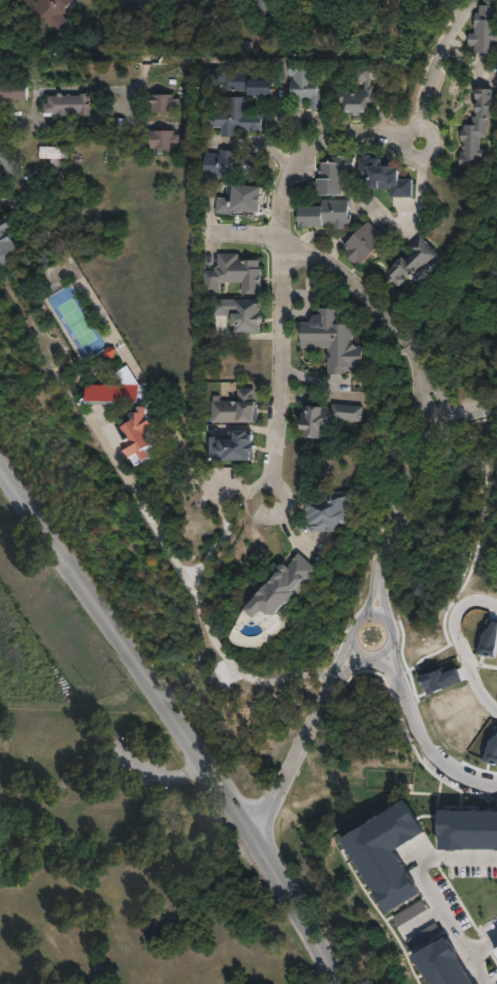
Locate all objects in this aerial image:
building: (375, 2)
building: (317, 3)
building: (335, 4)
building: (409, 5)
building: (264, 8)
building: (52, 10)
road: (149, 49)
road: (436, 58)
building: (246, 83)
building: (308, 84)
building: (194, 87)
building: (15, 89)
building: (362, 93)
road: (37, 94)
building: (162, 104)
building: (69, 105)
building: (237, 118)
building: (478, 118)
building: (194, 131)
building: (166, 139)
road: (303, 144)
building: (57, 155)
road: (417, 155)
building: (9, 159)
building: (235, 166)
building: (334, 175)
building: (38, 182)
building: (243, 200)
building: (330, 213)
building: (5, 241)
building: (370, 241)
road: (325, 258)
building: (411, 260)
building: (237, 273)
building: (334, 339)
road: (273, 352)
building: (114, 355)
road: (416, 357)
building: (118, 393)
road: (441, 395)
road: (427, 403)
building: (240, 407)
building: (332, 417)
building: (101, 428)
building: (146, 434)
building: (222, 487)
building: (487, 505)
road: (274, 507)
building: (336, 511)
road: (363, 603)
building: (477, 640)
road: (456, 647)
road: (406, 680)
road: (176, 719)
building: (475, 746)
road: (158, 775)
road: (476, 776)
building: (468, 829)
building: (351, 833)
building: (437, 844)
building: (387, 854)
park: (129, 858)
building: (427, 881)
road: (423, 882)
building: (484, 906)
building: (451, 918)
road: (481, 944)
building: (414, 950)
building: (495, 951)
building: (443, 965)

